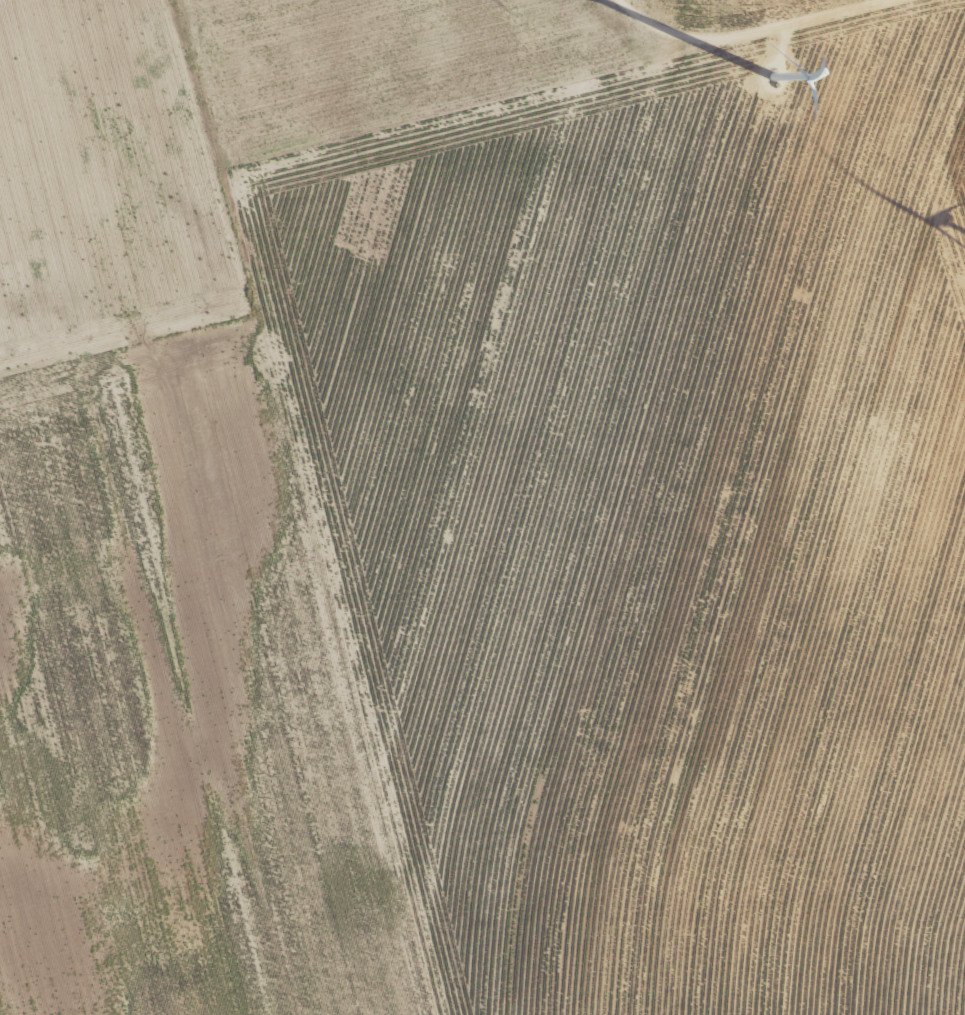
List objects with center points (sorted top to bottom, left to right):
wind turbine: (759, 91)

